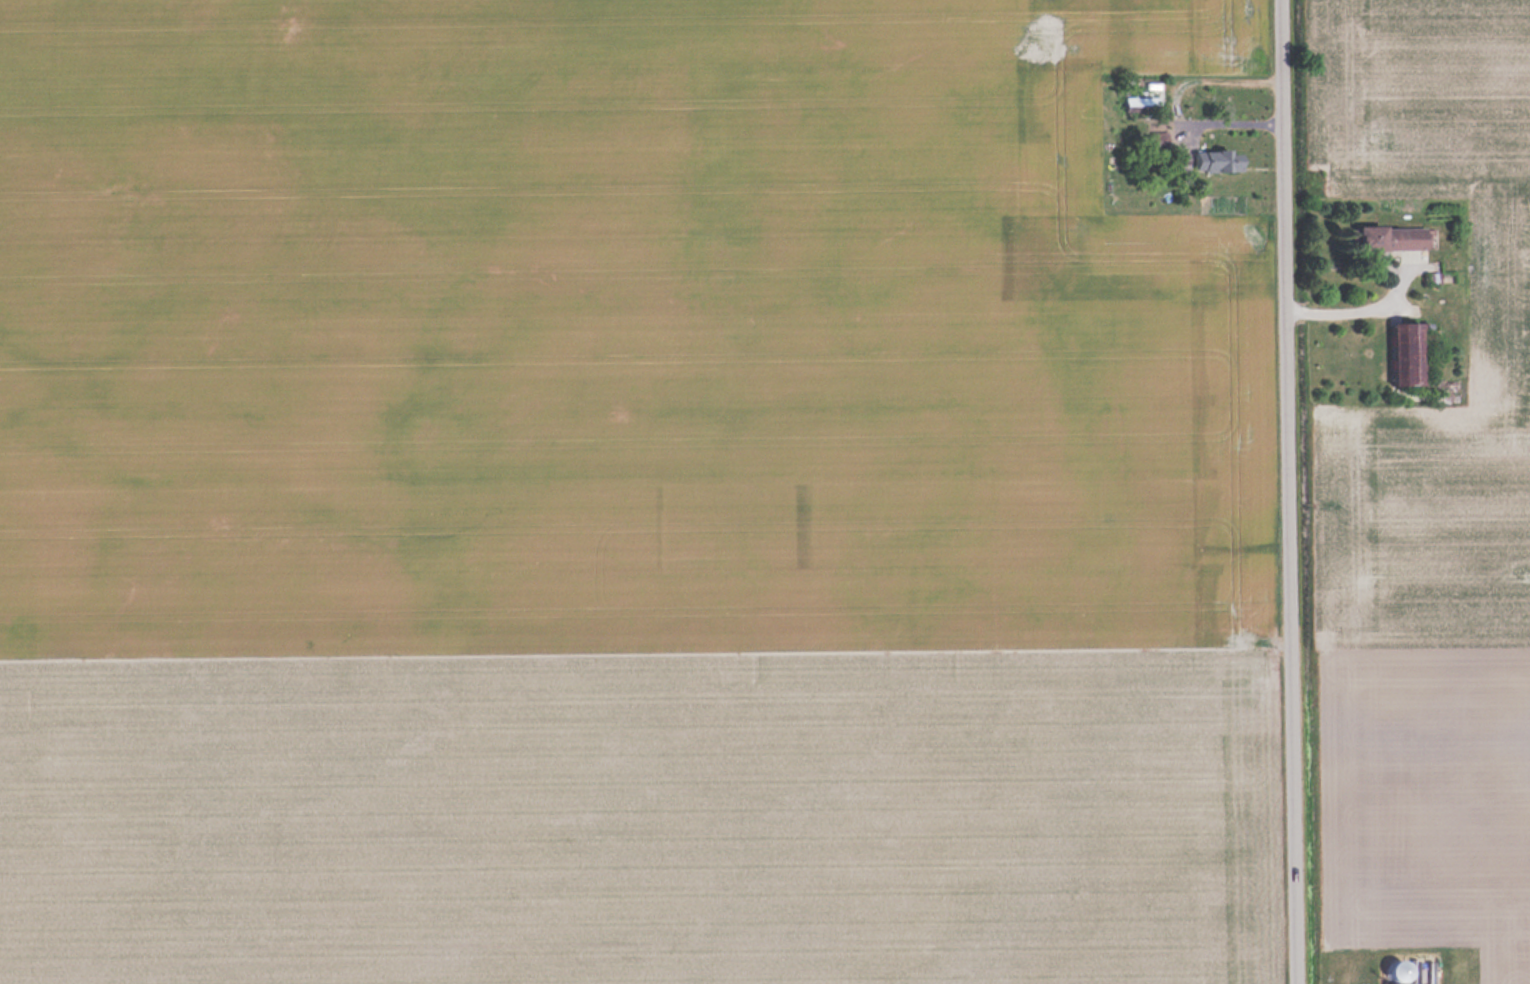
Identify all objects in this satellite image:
building: (1218, 161)
building: (1394, 237)
road: (1342, 307)
building: (1412, 355)
road: (1292, 492)
building: (1401, 969)

